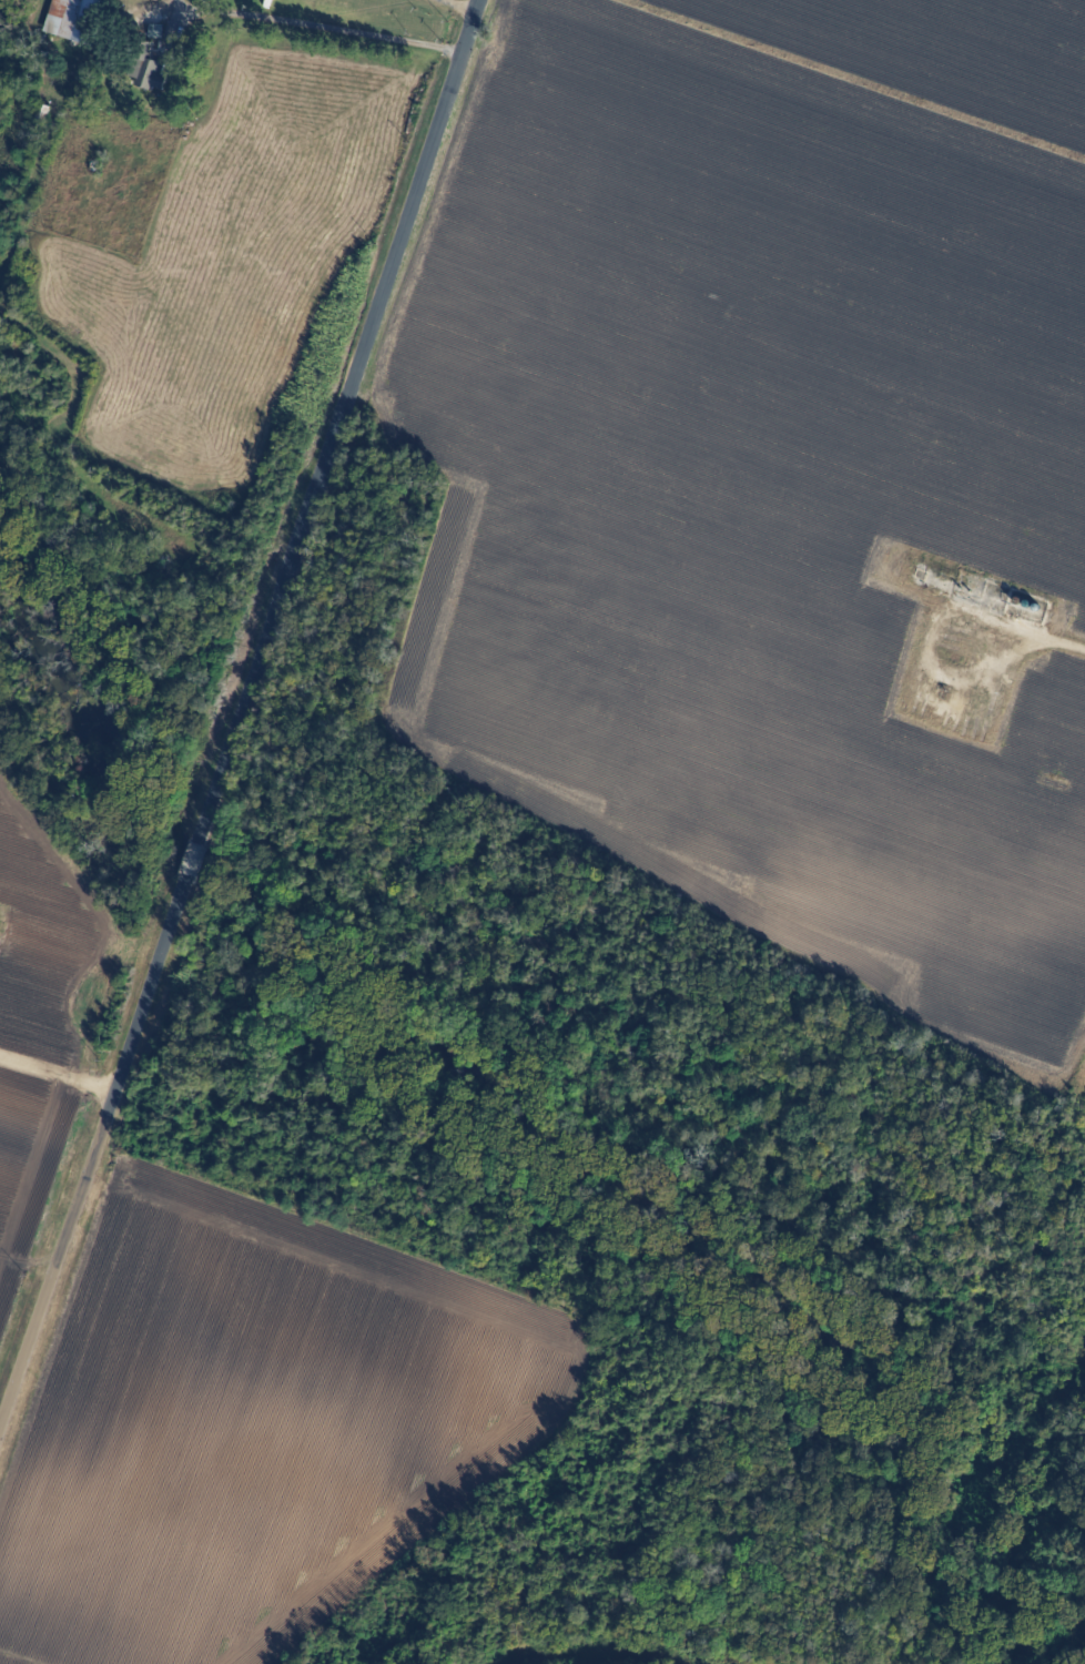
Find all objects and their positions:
road: (460, 6)
building: (68, 18)
road: (316, 23)
building: (155, 30)
building: (145, 68)
road: (337, 434)
road: (192, 874)
road: (94, 1166)

